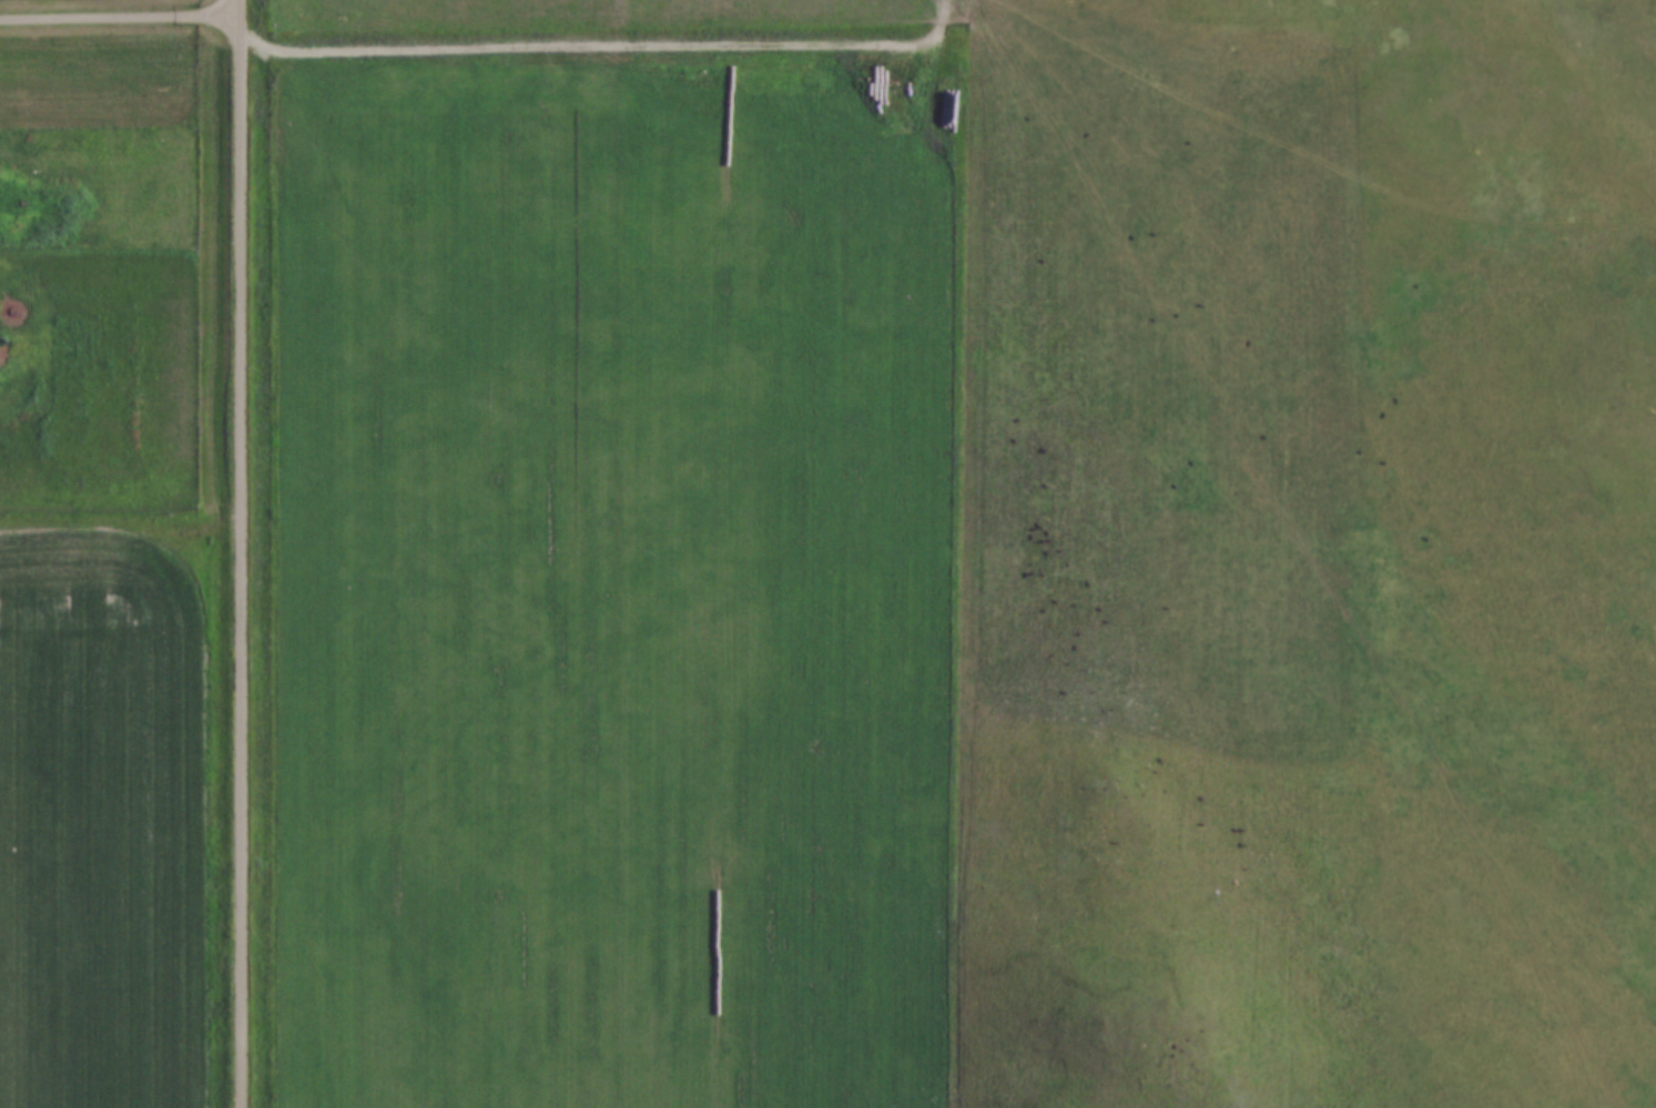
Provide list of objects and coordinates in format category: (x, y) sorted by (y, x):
road: (118, 17)
road: (236, 553)

